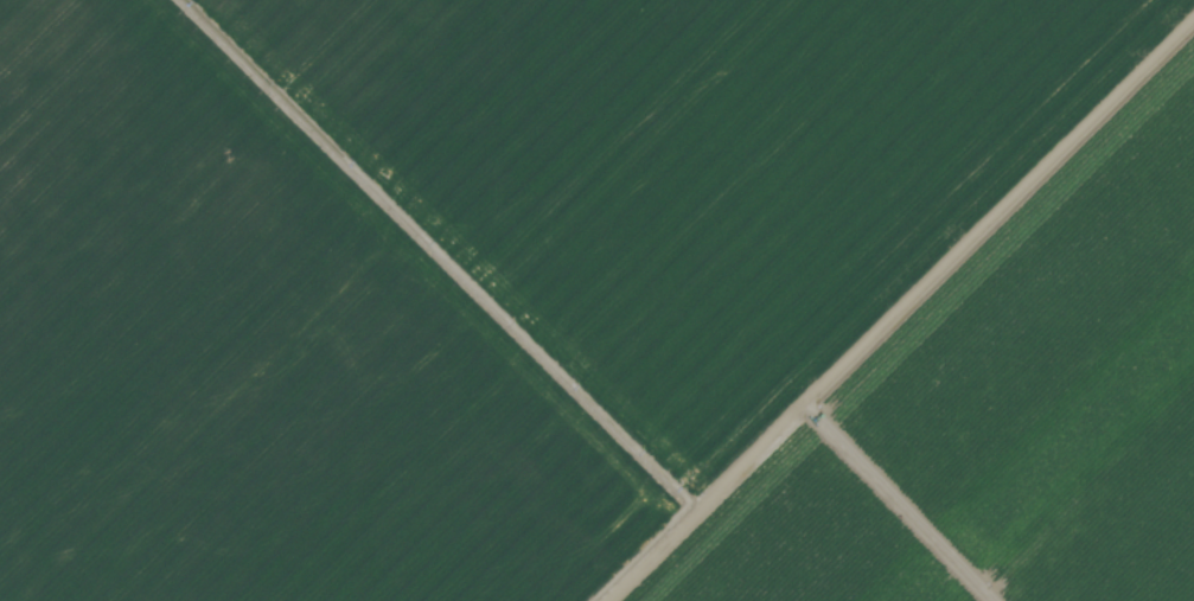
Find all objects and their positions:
crop: (596, 300)

